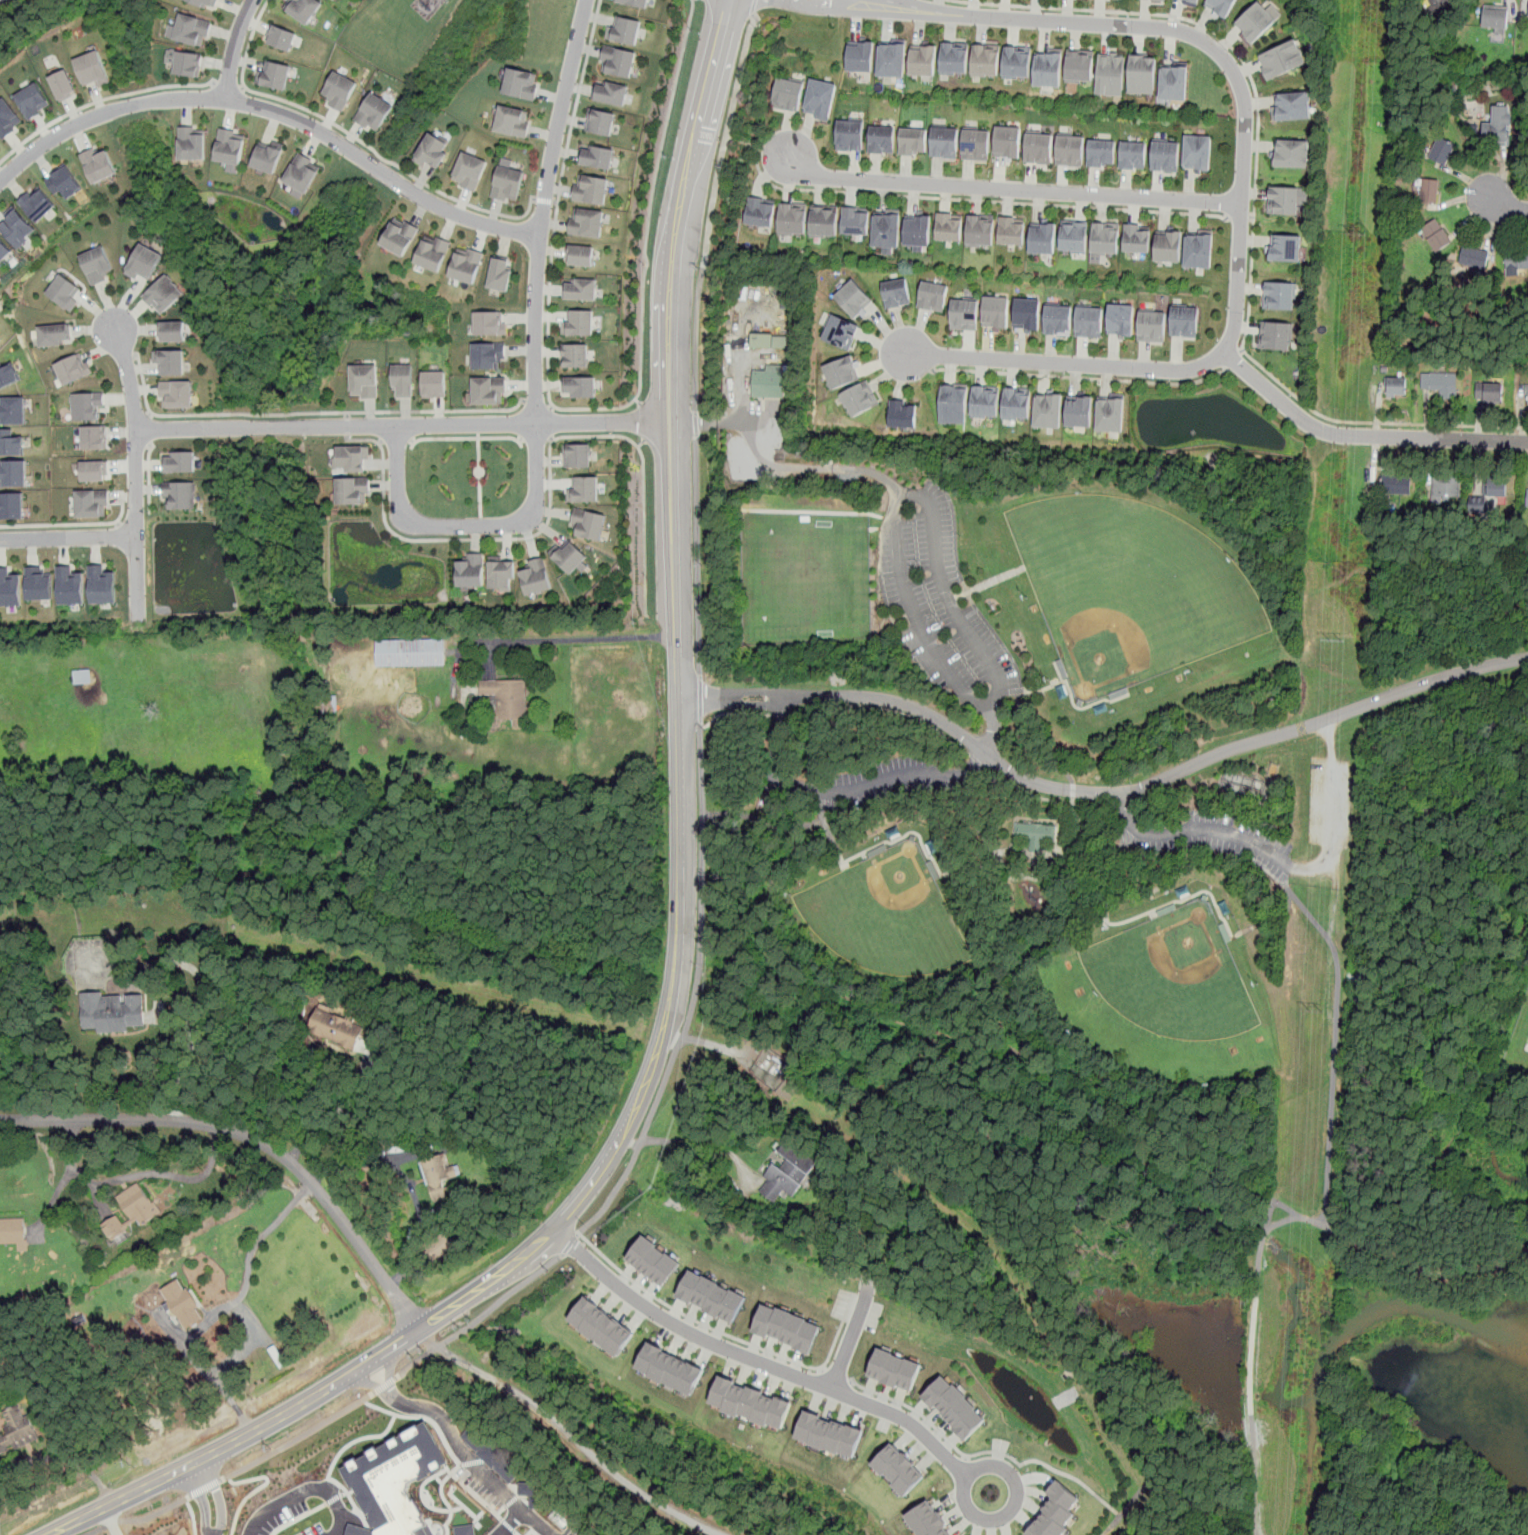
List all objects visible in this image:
building: (1161, 0)
road: (861, 1)
building: (1190, 1)
building: (636, 2)
building: (206, 3)
road: (754, 6)
building: (1220, 6)
building: (1443, 6)
building: (302, 8)
building: (1495, 18)
building: (1256, 21)
building: (190, 29)
building: (624, 29)
building: (282, 38)
road: (235, 48)
road: (1238, 55)
building: (860, 56)
building: (922, 57)
building: (953, 57)
building: (891, 59)
building: (986, 59)
building: (618, 61)
building: (1017, 61)
building: (1282, 61)
building: (188, 64)
building: (1079, 65)
building: (1048, 67)
building: (92, 69)
building: (1142, 72)
building: (1110, 73)
building: (273, 74)
building: (1173, 80)
building: (521, 83)
road: (227, 84)
building: (64, 86)
road: (243, 87)
building: (339, 90)
building: (611, 92)
building: (787, 95)
building: (819, 99)
road: (99, 100)
road: (577, 100)
building: (32, 101)
building: (1291, 107)
road: (273, 110)
building: (374, 112)
building: (7, 118)
building: (514, 121)
building: (601, 121)
building: (1497, 125)
building: (849, 136)
road: (355, 137)
building: (881, 139)
building: (913, 141)
building: (944, 141)
building: (1008, 141)
building: (192, 143)
building: (976, 144)
building: (230, 145)
road: (756, 145)
building: (1038, 148)
building: (1070, 150)
building: (1441, 150)
building: (432, 152)
building: (1101, 153)
building: (1197, 153)
building: (1292, 154)
building: (267, 155)
building: (1132, 155)
building: (597, 156)
building: (1165, 156)
road: (691, 163)
building: (100, 165)
road: (1243, 168)
building: (470, 170)
building: (303, 172)
building: (64, 181)
building: (508, 185)
building: (590, 189)
road: (1010, 190)
building: (1428, 190)
building: (1286, 199)
road: (544, 200)
road: (977, 200)
building: (38, 202)
road: (556, 202)
road: (1504, 205)
building: (760, 212)
building: (792, 218)
road: (1239, 218)
building: (823, 219)
building: (855, 221)
building: (587, 222)
building: (949, 226)
building: (17, 228)
building: (886, 229)
building: (917, 230)
building: (980, 230)
building: (1012, 231)
power tower: (1359, 232)
building: (1436, 233)
building: (400, 236)
building: (1042, 236)
building: (1074, 236)
building: (1137, 237)
building: (1104, 240)
building: (1167, 245)
building: (1285, 247)
building: (1198, 248)
building: (4, 250)
building: (433, 253)
building: (580, 255)
building: (1473, 258)
building: (1516, 259)
building: (144, 263)
building: (97, 265)
building: (466, 265)
building: (499, 274)
building: (580, 289)
building: (64, 292)
building: (896, 294)
building: (164, 295)
building: (1279, 295)
building: (932, 297)
building: (853, 299)
building: (994, 312)
building: (1026, 313)
building: (964, 315)
building: (1058, 319)
building: (1121, 320)
building: (1089, 321)
building: (1185, 321)
building: (578, 322)
building: (489, 323)
building: (1152, 325)
building: (172, 332)
building: (840, 333)
building: (53, 335)
building: (1275, 336)
building: (769, 341)
road: (641, 342)
building: (488, 355)
building: (575, 355)
road: (1234, 360)
building: (170, 363)
road: (536, 366)
building: (71, 369)
building: (10, 372)
building: (841, 373)
road: (1080, 377)
building: (403, 379)
building: (364, 380)
road: (143, 383)
building: (1440, 383)
building: (434, 384)
building: (768, 385)
building: (1396, 385)
building: (579, 387)
building: (488, 390)
building: (1489, 392)
building: (176, 395)
building: (1527, 396)
building: (859, 400)
road: (638, 401)
building: (985, 401)
building: (1016, 403)
building: (953, 404)
road: (537, 405)
road: (551, 406)
building: (86, 407)
building: (1047, 409)
building: (13, 410)
building: (1079, 410)
road: (339, 412)
road: (348, 414)
building: (1110, 414)
building: (903, 415)
road: (642, 422)
road: (550, 423)
road: (1371, 423)
road: (398, 425)
road: (348, 426)
road: (149, 429)
road: (1362, 436)
road: (466, 437)
building: (94, 438)
road: (535, 440)
road: (396, 442)
building: (14, 443)
road: (641, 443)
building: (576, 455)
road: (661, 457)
road: (683, 459)
building: (179, 460)
building: (352, 460)
road: (136, 467)
building: (94, 471)
building: (15, 473)
road: (479, 474)
road: (149, 477)
building: (1395, 483)
building: (584, 489)
building: (353, 490)
building: (1446, 491)
building: (179, 494)
building: (1491, 494)
road: (135, 496)
road: (550, 497)
building: (1527, 498)
building: (91, 503)
road: (929, 504)
building: (13, 505)
road: (697, 515)
building: (588, 523)
road: (73, 524)
road: (67, 537)
building: (568, 555)
building: (471, 570)
building: (501, 574)
building: (536, 577)
park: (805, 577)
building: (38, 583)
building: (71, 584)
building: (102, 584)
building: (9, 587)
park: (1138, 589)
parking lot: (940, 605)
road: (567, 639)
power tower: (1337, 641)
building: (410, 651)
building: (82, 676)
building: (507, 700)
parking lot: (866, 782)
road: (1103, 793)
road: (848, 794)
road: (1332, 814)
road: (756, 816)
building: (1034, 833)
road: (1194, 837)
parking lot: (1220, 844)
park: (889, 916)
park: (1140, 924)
park: (1169, 1001)
building: (112, 1011)
power tower: (1316, 1014)
building: (335, 1026)
road: (962, 1037)
road: (1331, 1042)
park: (1521, 1048)
road: (191, 1051)
road: (345, 1111)
road: (644, 1135)
road: (254, 1138)
road: (693, 1140)
building: (788, 1171)
building: (438, 1174)
road: (137, 1175)
road: (410, 1182)
road: (579, 1197)
building: (131, 1210)
building: (14, 1231)
road: (261, 1236)
road: (1261, 1240)
road: (569, 1244)
building: (654, 1260)
building: (712, 1296)
building: (181, 1303)
road: (480, 1317)
road: (251, 1321)
building: (601, 1326)
building: (787, 1327)
road: (852, 1338)
road: (782, 1355)
building: (670, 1369)
building: (895, 1369)
road: (383, 1385)
road: (837, 1389)
building: (749, 1402)
building: (954, 1406)
building: (17, 1429)
building: (828, 1434)
road: (568, 1435)
road: (297, 1437)
road: (458, 1447)
road: (53, 1458)
road: (996, 1459)
building: (898, 1469)
road: (1059, 1472)
road: (333, 1477)
building: (396, 1480)
road: (206, 1487)
road: (218, 1496)
road: (202, 1499)
road: (1163, 1506)
building: (1056, 1512)
road: (140, 1520)
building: (926, 1520)
building: (464, 1530)

